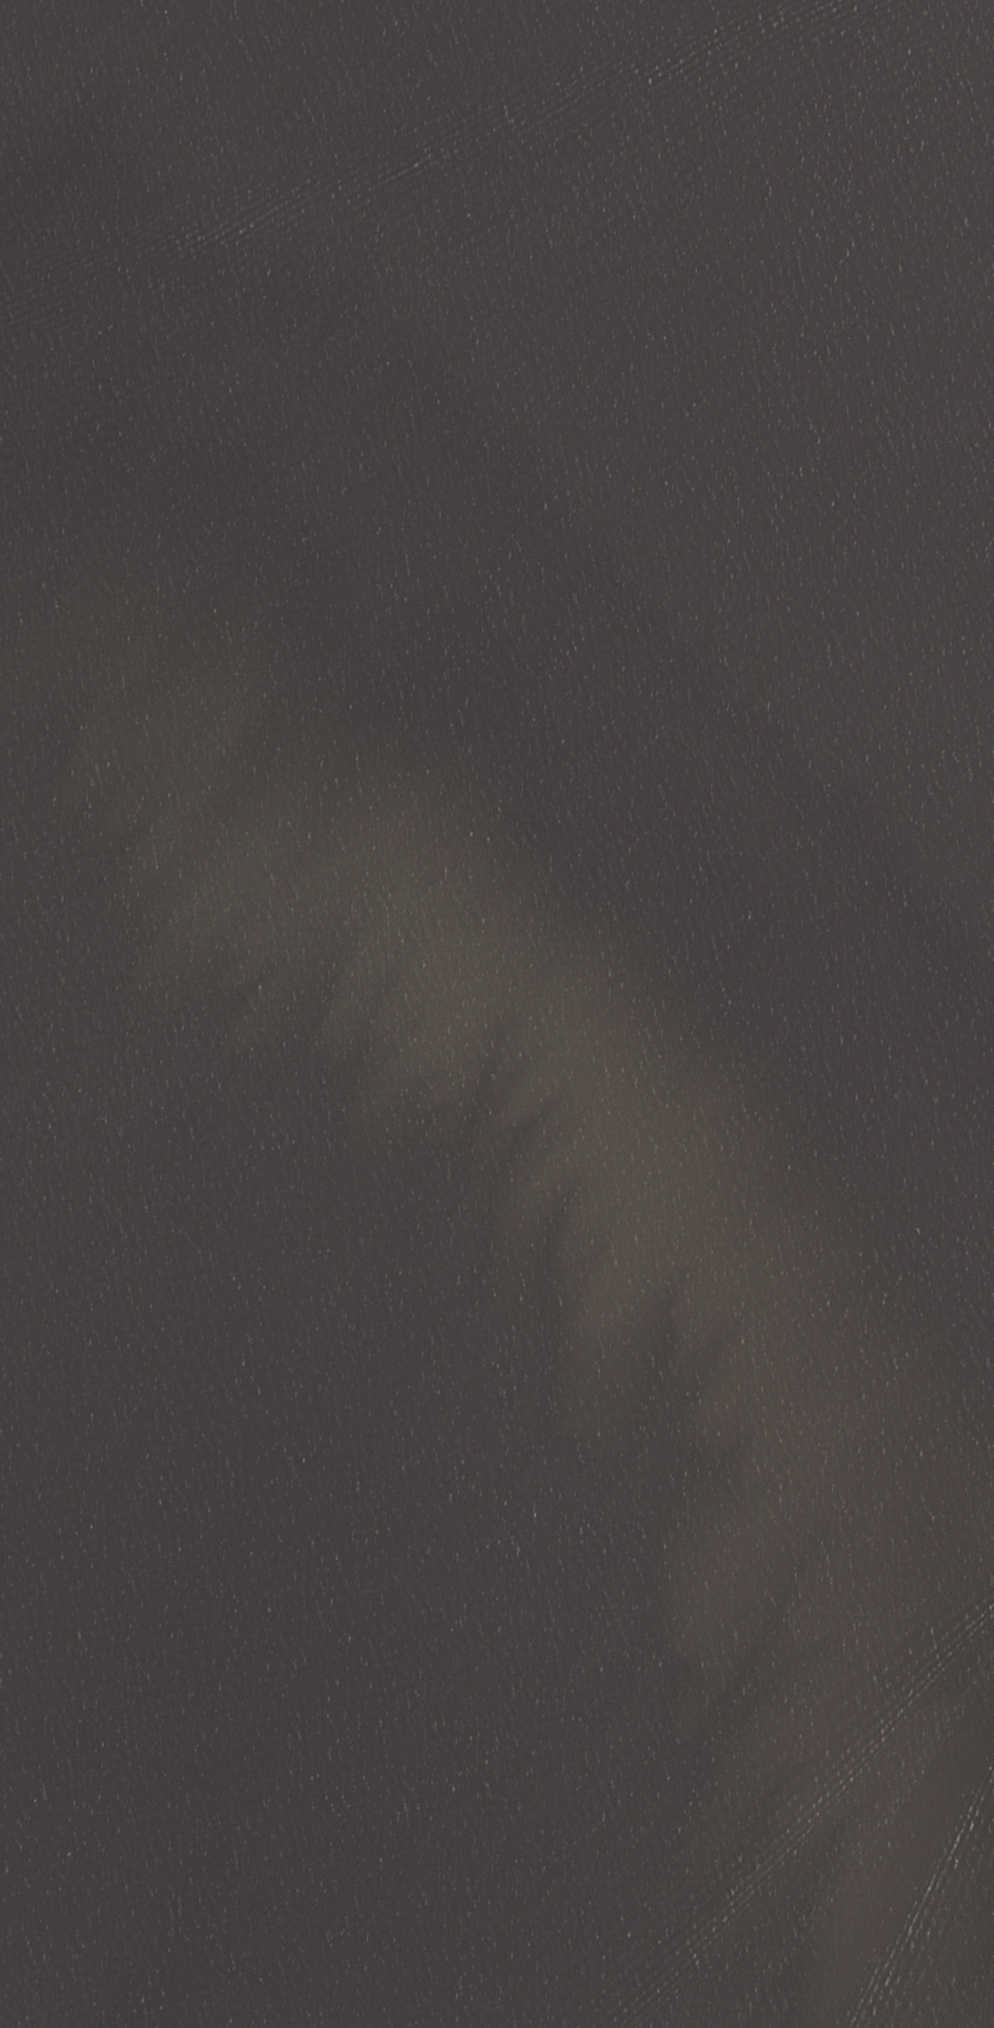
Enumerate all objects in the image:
river: (516, 735)

